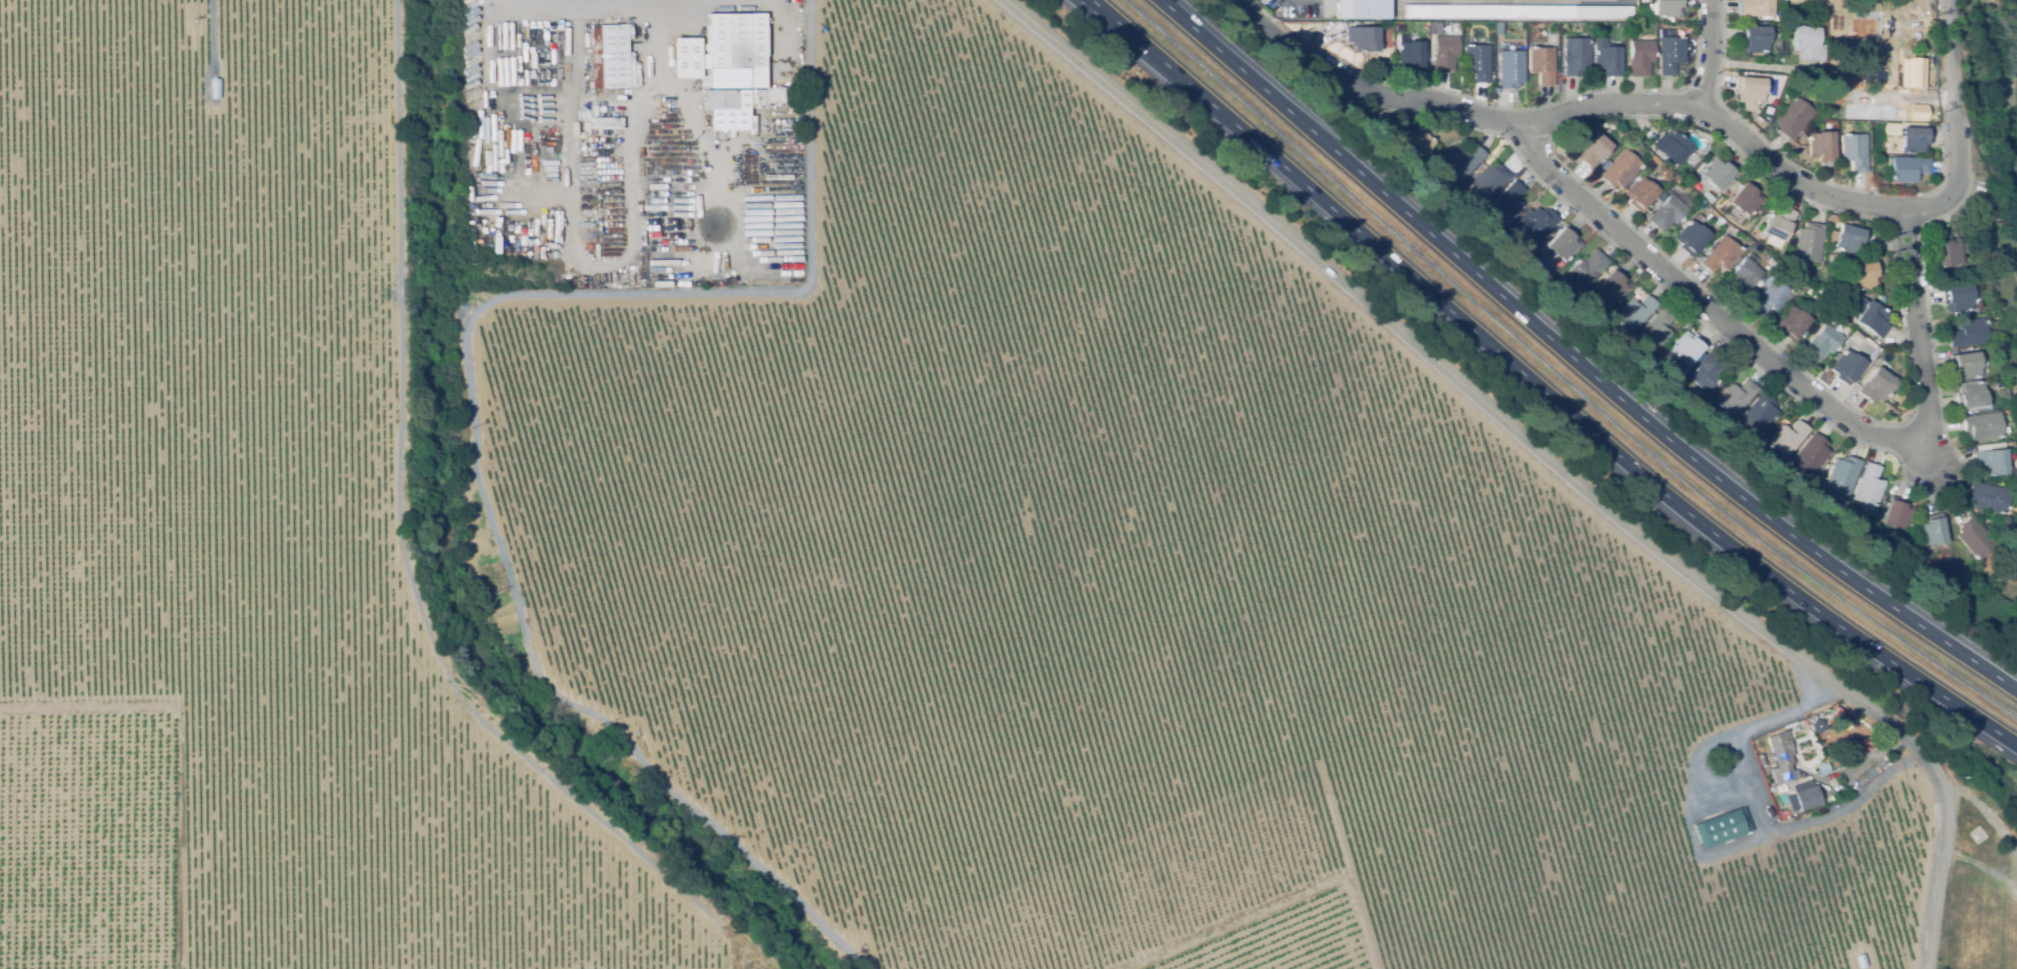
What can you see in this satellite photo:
road: (1471, 2)
road: (566, 3)
road: (1098, 5)
building: (1666, 8)
building: (1755, 8)
building: (1361, 9)
building: (1517, 11)
building: (1641, 17)
building: (1842, 23)
building: (1621, 25)
building: (1873, 26)
building: (1432, 28)
building: (1499, 30)
building: (1368, 37)
building: (1754, 38)
building: (736, 41)
building: (1806, 42)
building: (1670, 52)
building: (1444, 53)
building: (1411, 54)
road: (1706, 54)
building: (610, 55)
building: (1576, 56)
building: (1640, 57)
building: (686, 58)
building: (1606, 58)
building: (1477, 62)
building: (1542, 64)
building: (1843, 68)
building: (1876, 68)
building: (1511, 69)
building: (1914, 72)
building: (1557, 75)
building: (760, 80)
building: (722, 83)
building: (215, 88)
building: (1749, 89)
building: (1838, 97)
road: (1571, 108)
building: (1879, 108)
building: (727, 109)
building: (1926, 109)
building: (1793, 118)
road: (1958, 124)
building: (1915, 139)
building: (1419, 145)
building: (1821, 146)
building: (1674, 148)
building: (1592, 149)
building: (791, 151)
building: (1854, 151)
road: (629, 155)
building: (1464, 162)
road: (711, 166)
building: (1907, 168)
building: (1619, 169)
building: (1718, 172)
building: (1489, 182)
building: (1640, 193)
building: (1745, 198)
building: (1509, 202)
building: (1668, 213)
building: (1536, 225)
building: (1778, 225)
building: (1691, 237)
building: (1848, 240)
building: (1564, 243)
building: (1808, 243)
building: (1740, 244)
building: (1947, 251)
building: (1721, 255)
building: (1831, 259)
building: (1557, 266)
building: (1587, 270)
building: (1864, 275)
building: (1744, 278)
building: (1763, 279)
building: (1759, 284)
building: (1614, 286)
building: (1774, 296)
building: (1957, 298)
road: (1705, 308)
building: (1636, 313)
building: (1873, 319)
building: (1792, 323)
road: (1923, 327)
building: (1657, 330)
building: (1969, 333)
building: (1858, 335)
building: (1805, 339)
building: (1823, 342)
building: (1689, 350)
road: (1578, 359)
building: (1966, 365)
building: (1846, 366)
building: (1709, 370)
building: (1678, 376)
building: (1877, 386)
road: (1542, 389)
road: (1469, 393)
building: (1970, 395)
building: (1737, 398)
road: (471, 400)
building: (1760, 414)
building: (1983, 426)
building: (1789, 439)
building: (1812, 455)
building: (1993, 460)
building: (1843, 478)
building: (1871, 485)
building: (1990, 497)
building: (1899, 514)
building: (1933, 531)
building: (1870, 532)
building: (1918, 534)
building: (1976, 538)
road: (87, 705)
building: (1837, 718)
building: (1864, 744)
building: (1758, 748)
building: (1783, 757)
building: (1761, 760)
building: (1808, 797)
road: (1755, 816)
building: (1722, 827)
road: (1942, 876)
building: (1860, 961)

